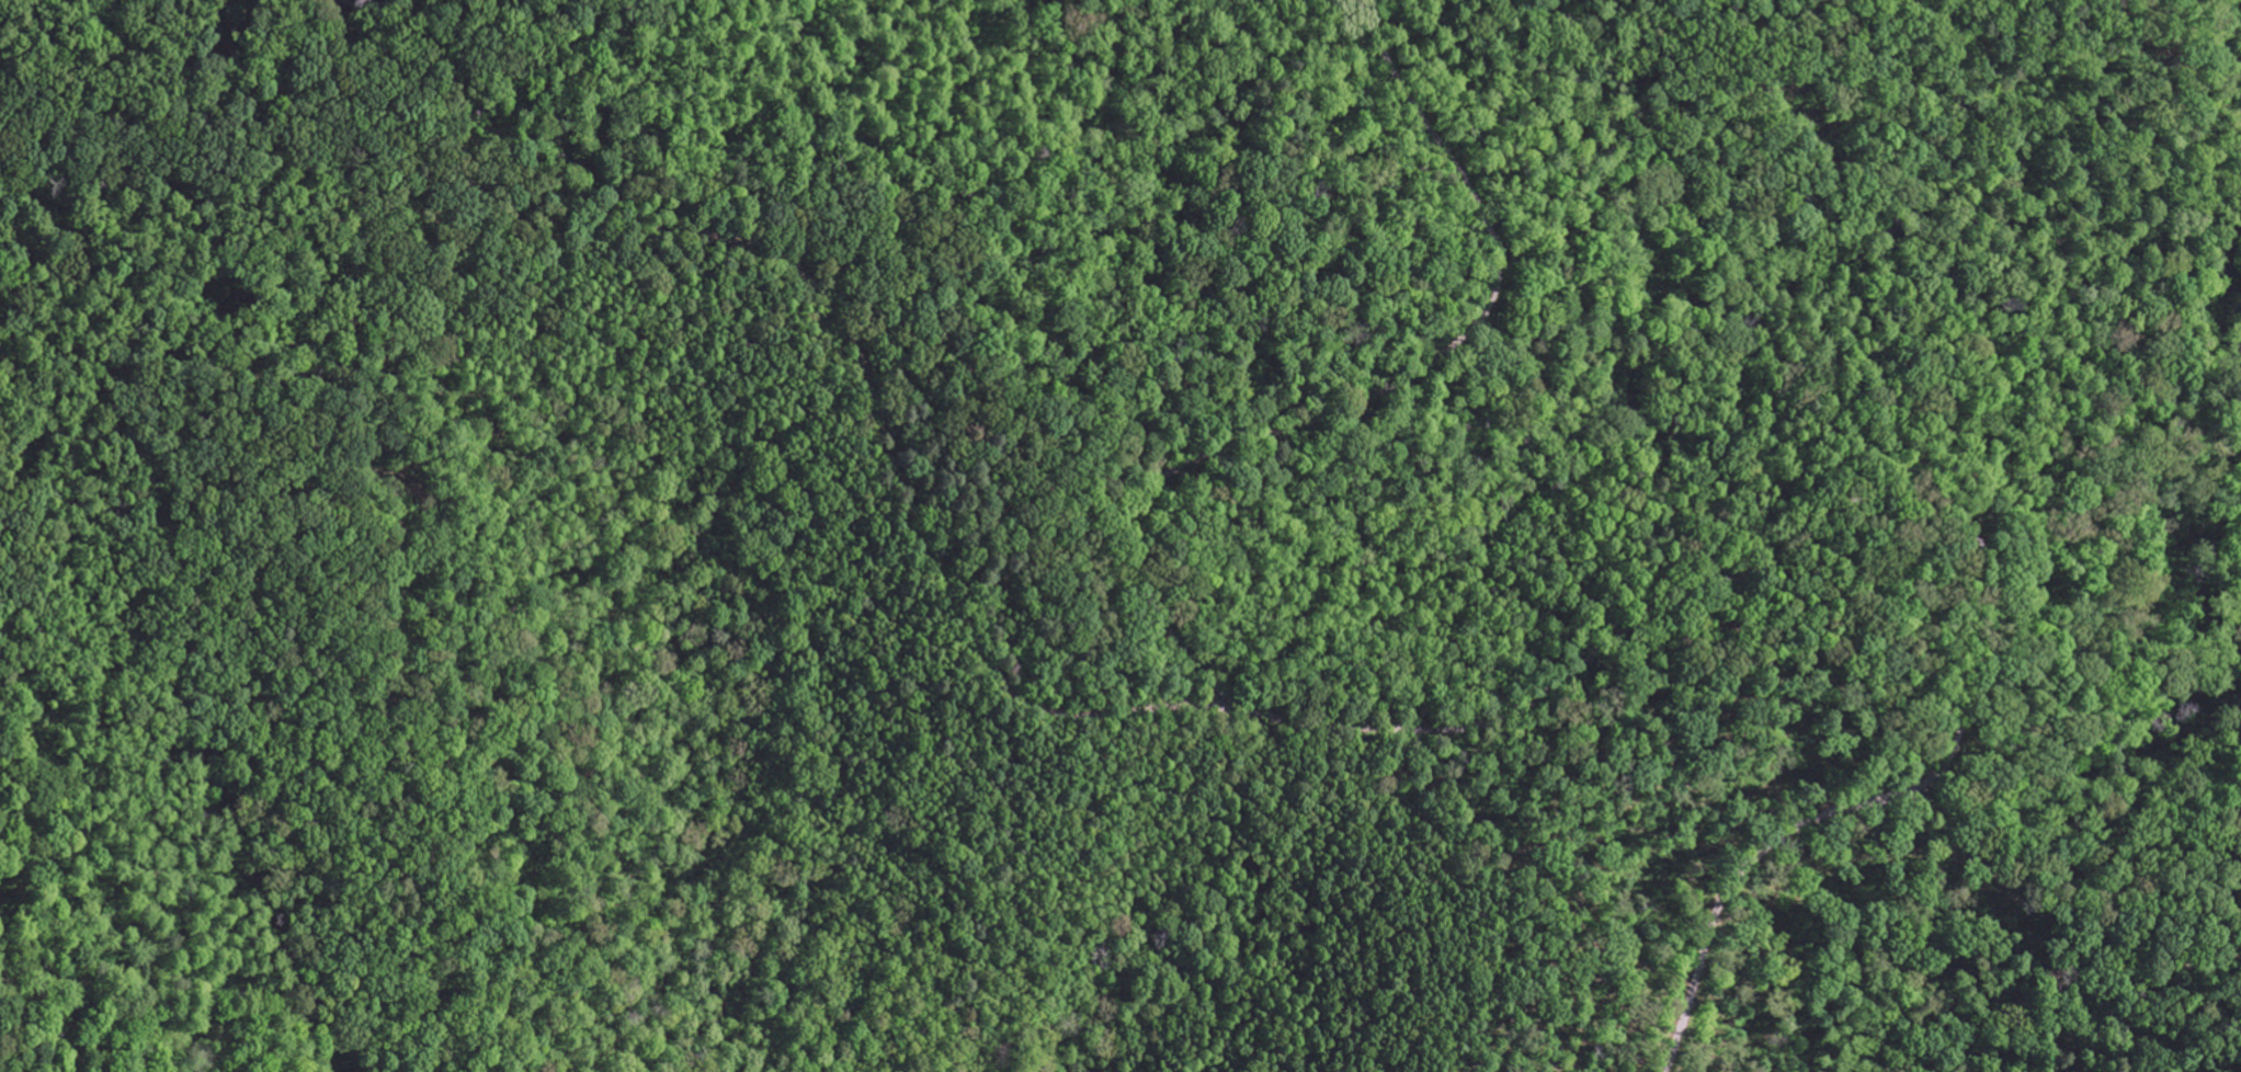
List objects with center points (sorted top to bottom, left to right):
road: (816, 285)
road: (1373, 397)
road: (1665, 597)

